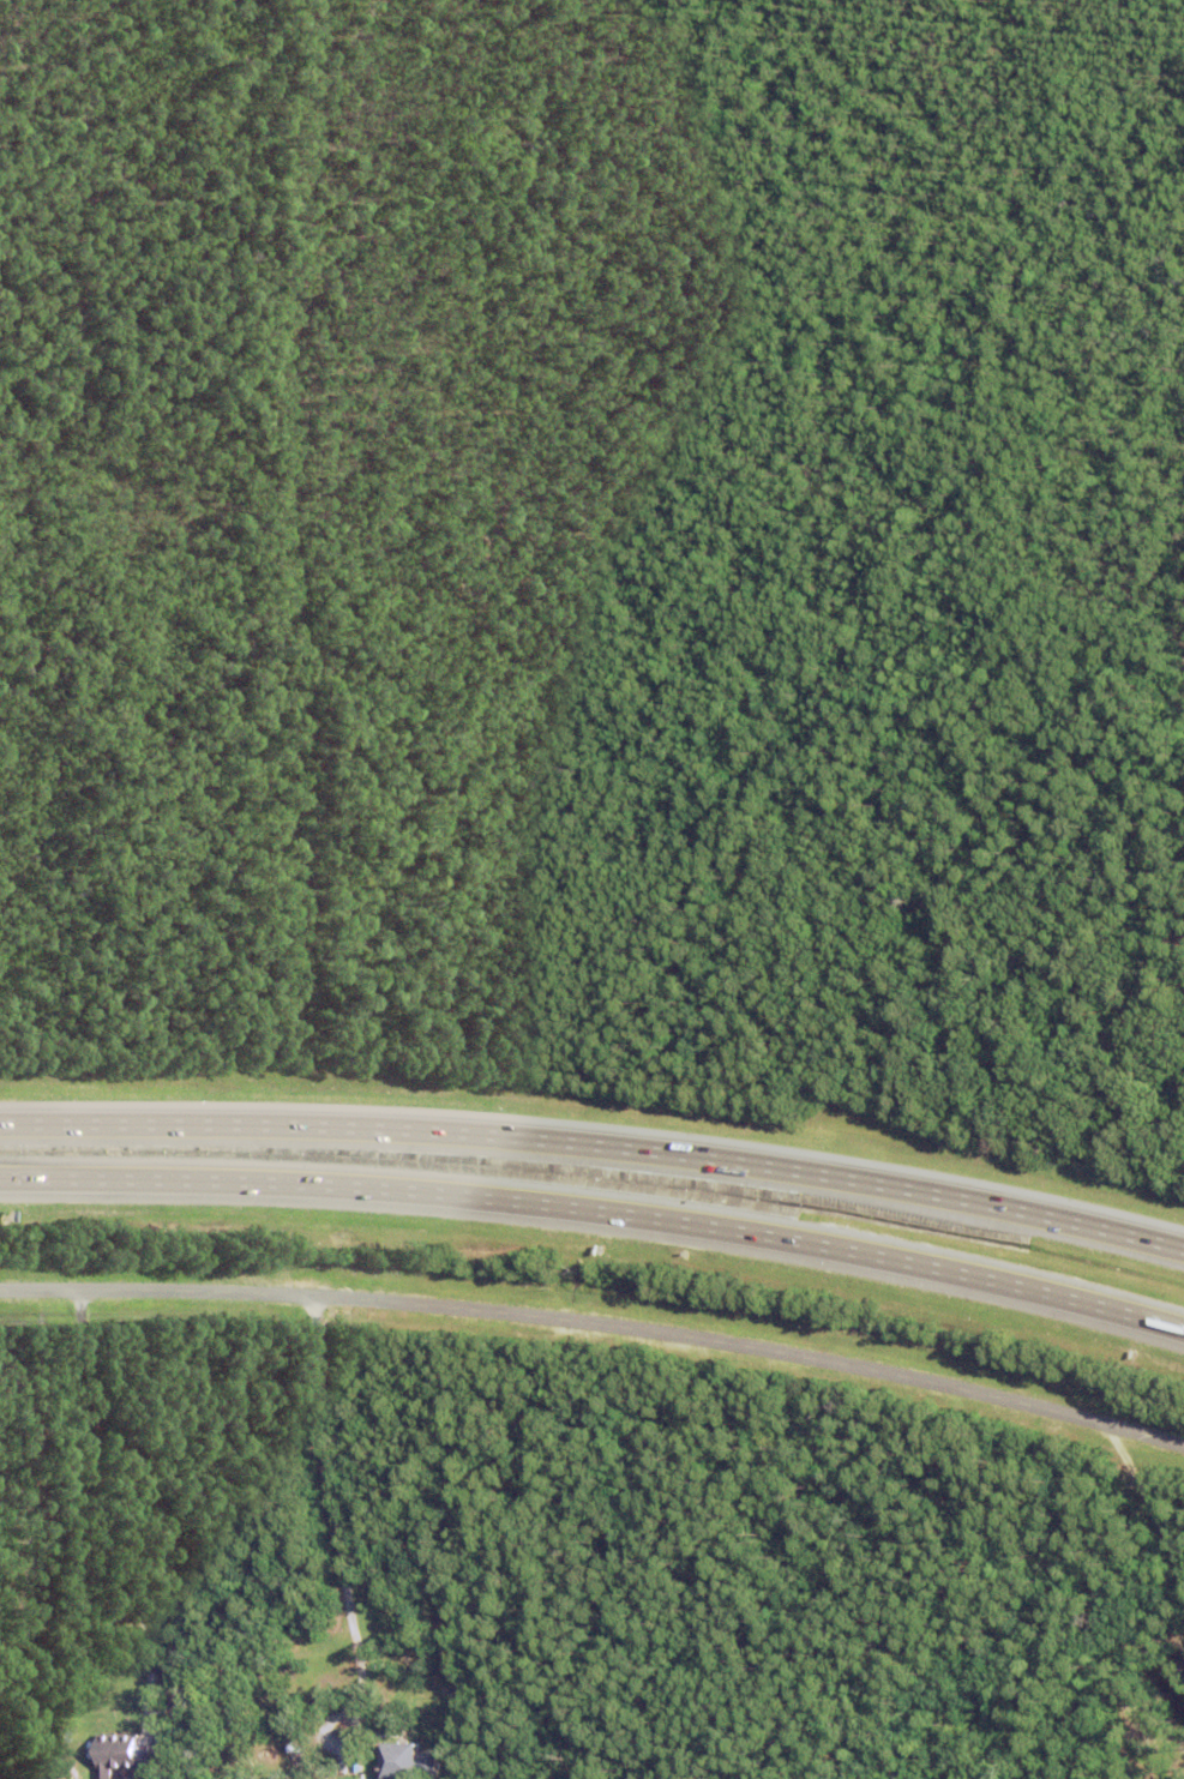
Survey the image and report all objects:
road: (596, 1137)
road: (597, 1213)
road: (597, 1322)
road: (144, 1493)
road: (337, 1513)
building: (67, 1739)
building: (124, 1751)
building: (409, 1759)
building: (465, 1767)

